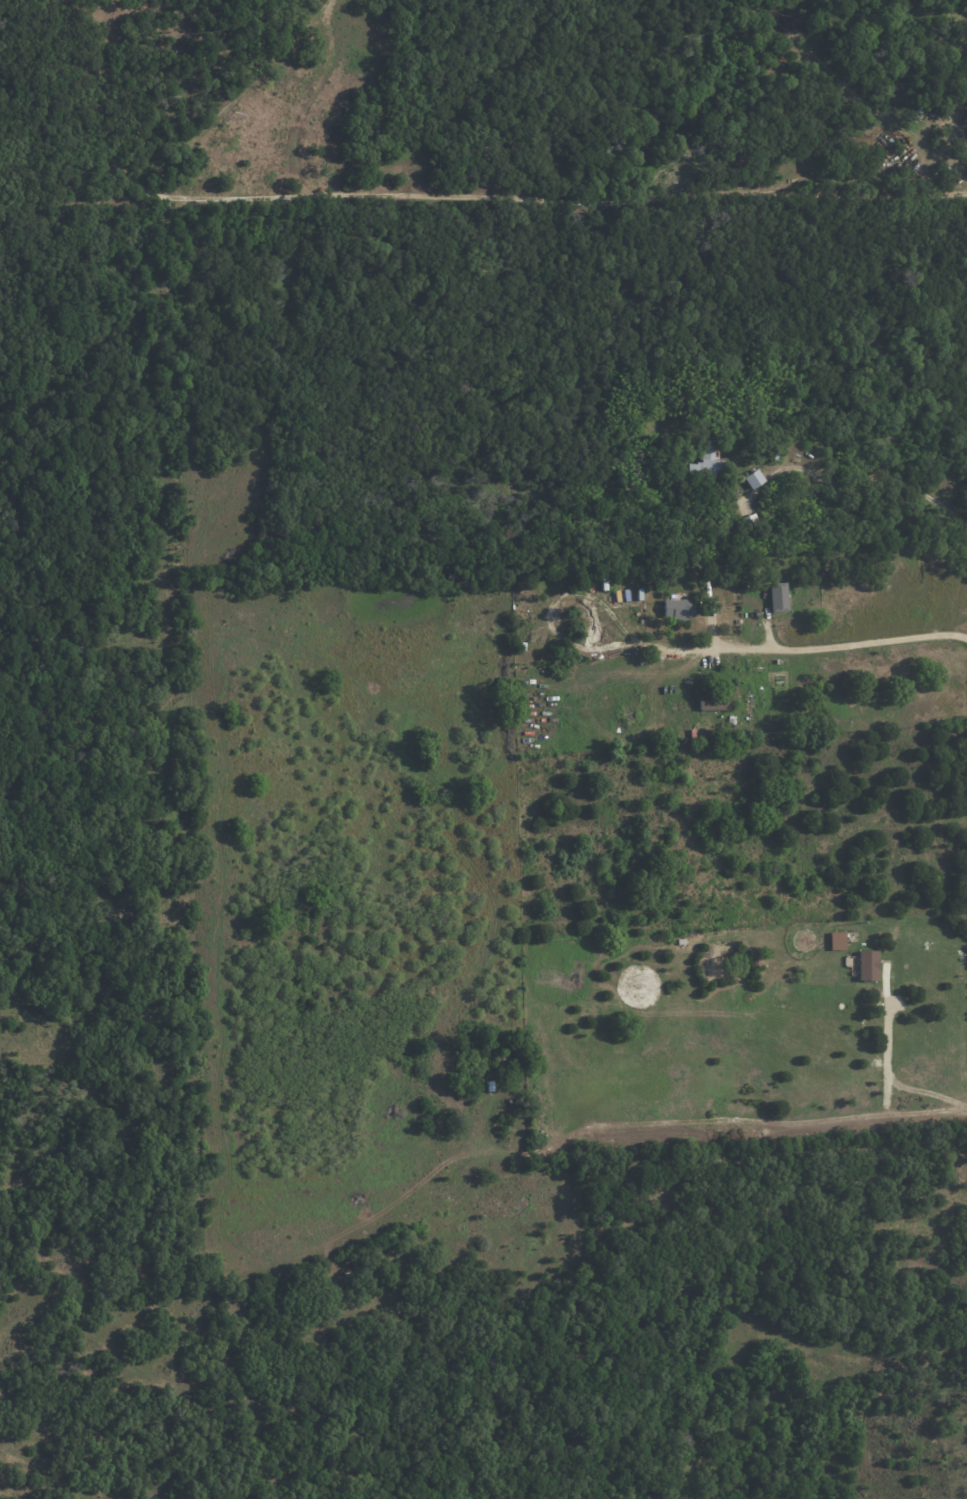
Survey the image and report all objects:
building: (702, 161)
building: (711, 461)
building: (759, 481)
road: (886, 481)
building: (753, 523)
building: (590, 574)
building: (708, 589)
building: (776, 596)
building: (682, 610)
road: (843, 643)
road: (650, 644)
building: (716, 702)
building: (839, 939)
building: (870, 964)
road: (886, 1062)
building: (504, 1065)
building: (492, 1086)
road: (924, 1091)
road: (782, 1123)

